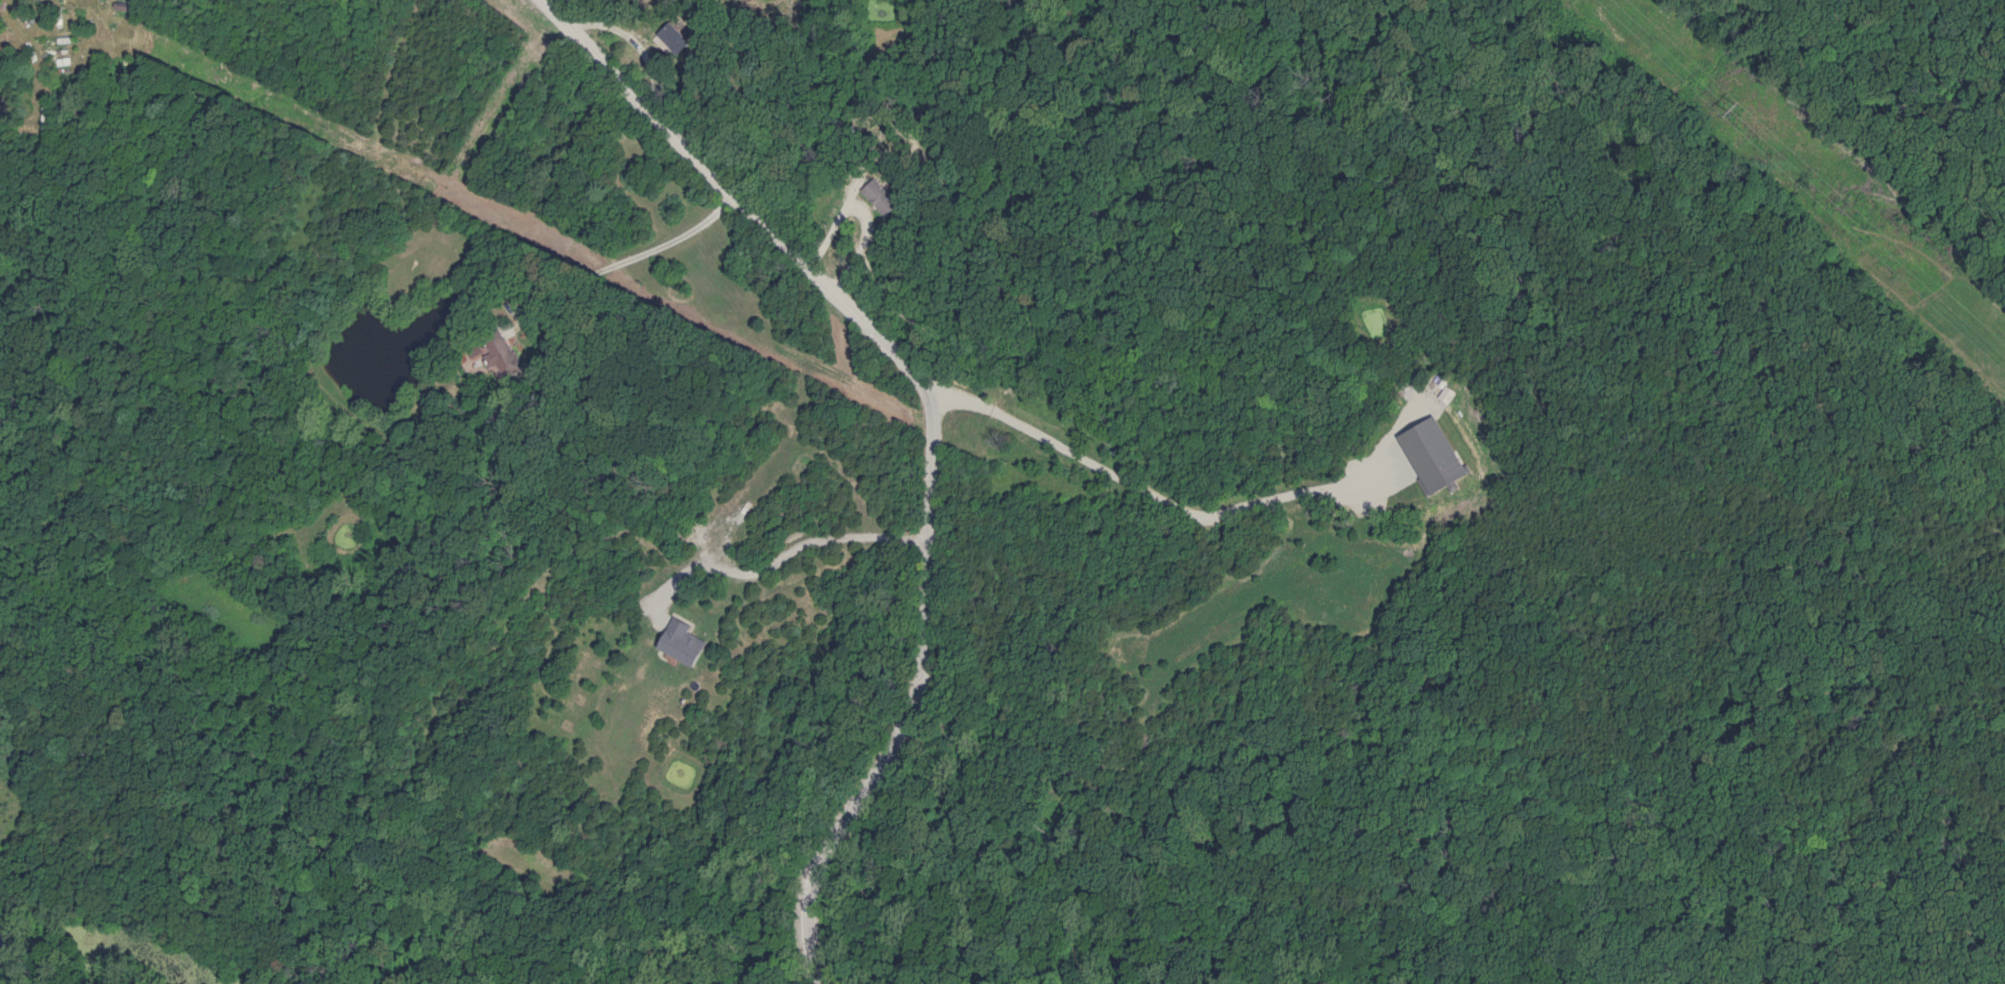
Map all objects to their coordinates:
building: (122, 9)
building: (672, 38)
power tower: (1742, 108)
building: (878, 197)
road: (630, 254)
building: (501, 355)
road: (927, 430)
road: (1146, 491)
road: (781, 553)
building: (684, 643)

